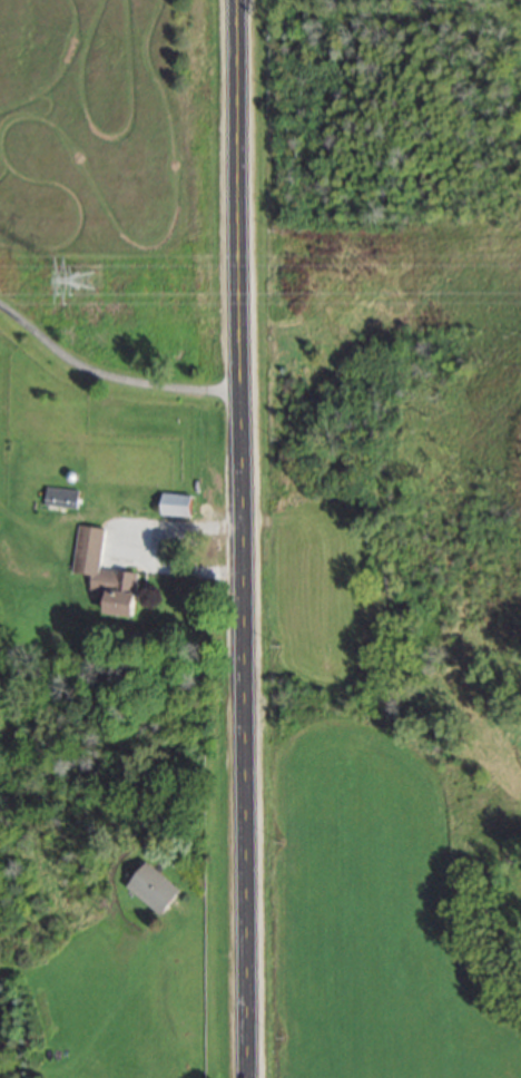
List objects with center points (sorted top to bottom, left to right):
power tower: (89, 293)
road: (107, 379)
building: (65, 499)
building: (177, 507)
road: (239, 539)
road: (141, 545)
building: (119, 591)
building: (156, 891)

